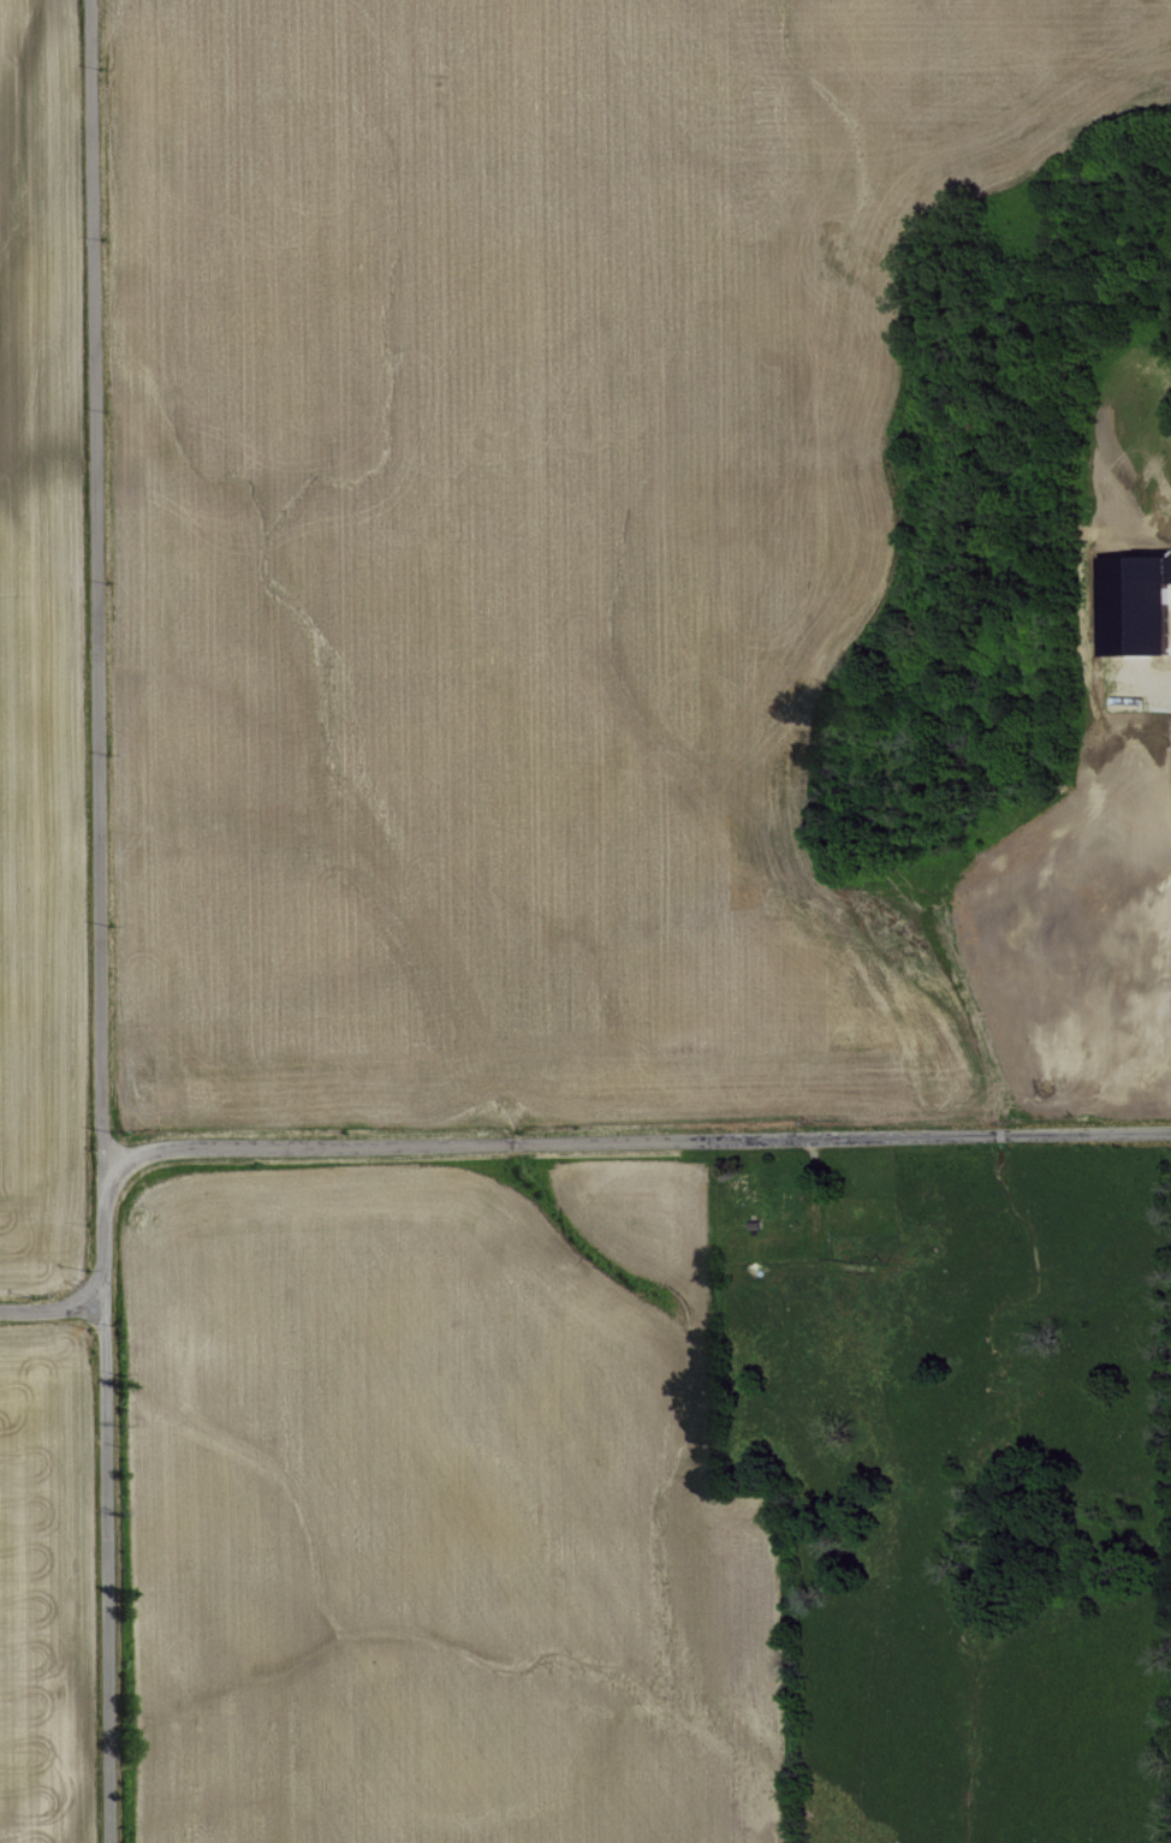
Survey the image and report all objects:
road: (96, 921)
road: (635, 1141)
road: (52, 1307)

